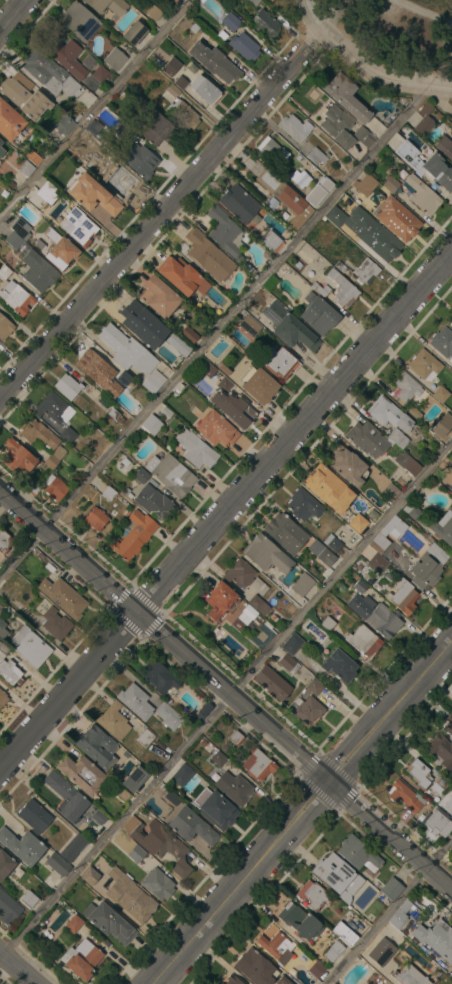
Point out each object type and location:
building: (270, 0)
building: (173, 1)
building: (107, 5)
building: (154, 13)
road: (12, 14)
building: (79, 21)
building: (231, 22)
building: (265, 23)
building: (134, 33)
building: (244, 46)
building: (68, 56)
building: (115, 59)
building: (213, 62)
building: (171, 67)
road: (361, 68)
building: (101, 73)
building: (50, 74)
building: (204, 90)
building: (24, 96)
road: (99, 110)
building: (357, 110)
building: (183, 114)
building: (451, 118)
building: (9, 122)
building: (64, 124)
building: (154, 125)
building: (424, 126)
building: (295, 128)
building: (96, 131)
building: (124, 131)
building: (364, 136)
building: (1, 142)
building: (445, 147)
building: (271, 148)
building: (1, 151)
building: (107, 156)
building: (316, 156)
building: (139, 160)
building: (425, 164)
building: (26, 169)
building: (300, 178)
building: (119, 184)
building: (390, 184)
building: (364, 185)
building: (318, 190)
building: (46, 192)
building: (92, 195)
building: (422, 195)
building: (285, 198)
building: (238, 203)
building: (335, 216)
road: (159, 218)
building: (396, 218)
building: (80, 227)
building: (225, 232)
building: (18, 233)
building: (373, 235)
building: (270, 240)
building: (59, 249)
building: (208, 255)
building: (38, 271)
building: (366, 271)
building: (4, 272)
building: (179, 274)
building: (321, 289)
building: (343, 289)
building: (158, 296)
building: (17, 300)
building: (318, 314)
building: (450, 321)
building: (143, 325)
building: (249, 325)
building: (5, 327)
building: (289, 327)
road: (218, 330)
building: (188, 335)
building: (442, 341)
building: (179, 344)
building: (127, 350)
building: (279, 362)
building: (425, 365)
building: (96, 368)
building: (231, 374)
building: (122, 380)
building: (153, 381)
building: (260, 381)
building: (224, 384)
building: (68, 386)
building: (407, 387)
building: (441, 394)
building: (54, 408)
building: (234, 408)
building: (389, 413)
building: (152, 424)
building: (442, 426)
building: (216, 429)
building: (68, 434)
building: (398, 438)
building: (367, 439)
building: (42, 440)
building: (195, 449)
building: (17, 456)
building: (407, 463)
building: (348, 465)
building: (171, 474)
building: (141, 475)
building: (32, 485)
building: (54, 487)
building: (328, 488)
building: (451, 489)
building: (390, 492)
building: (109, 493)
building: (154, 502)
building: (303, 505)
road: (225, 510)
building: (412, 511)
building: (96, 518)
building: (357, 523)
building: (444, 527)
building: (285, 533)
building: (135, 534)
building: (380, 535)
building: (4, 542)
building: (333, 542)
building: (321, 553)
building: (266, 554)
building: (378, 563)
building: (428, 566)
building: (244, 576)
building: (302, 585)
building: (360, 586)
building: (9, 588)
building: (63, 597)
building: (403, 597)
building: (219, 600)
building: (259, 605)
building: (375, 615)
building: (55, 623)
building: (328, 623)
building: (2, 629)
building: (364, 640)
building: (292, 644)
building: (30, 646)
building: (288, 663)
building: (339, 665)
building: (8, 667)
building: (159, 677)
building: (272, 683)
building: (314, 686)
road: (226, 689)
building: (2, 698)
building: (136, 701)
road: (226, 702)
building: (307, 709)
building: (202, 711)
building: (169, 716)
building: (113, 721)
building: (448, 724)
building: (145, 737)
building: (97, 746)
building: (440, 751)
building: (218, 758)
building: (258, 764)
building: (418, 773)
building: (81, 774)
building: (180, 774)
building: (135, 777)
building: (440, 784)
building: (234, 788)
building: (405, 796)
building: (67, 797)
road: (303, 812)
building: (226, 813)
building: (35, 816)
building: (99, 817)
building: (436, 821)
building: (192, 826)
building: (159, 844)
building: (22, 846)
building: (73, 847)
building: (137, 854)
building: (358, 854)
building: (5, 864)
building: (57, 864)
building: (89, 876)
building: (338, 876)
building: (158, 884)
building: (392, 889)
building: (313, 894)
building: (129, 895)
building: (29, 899)
building: (9, 909)
road: (389, 912)
building: (400, 914)
building: (109, 922)
building: (300, 922)
building: (74, 924)
building: (345, 933)
building: (436, 939)
building: (277, 946)
building: (333, 951)
building: (382, 951)
building: (83, 959)
building: (255, 967)
road: (17, 968)
building: (316, 969)
building: (410, 976)
building: (232, 980)
building: (284, 980)
building: (218, 983)
building: (335, 983)

